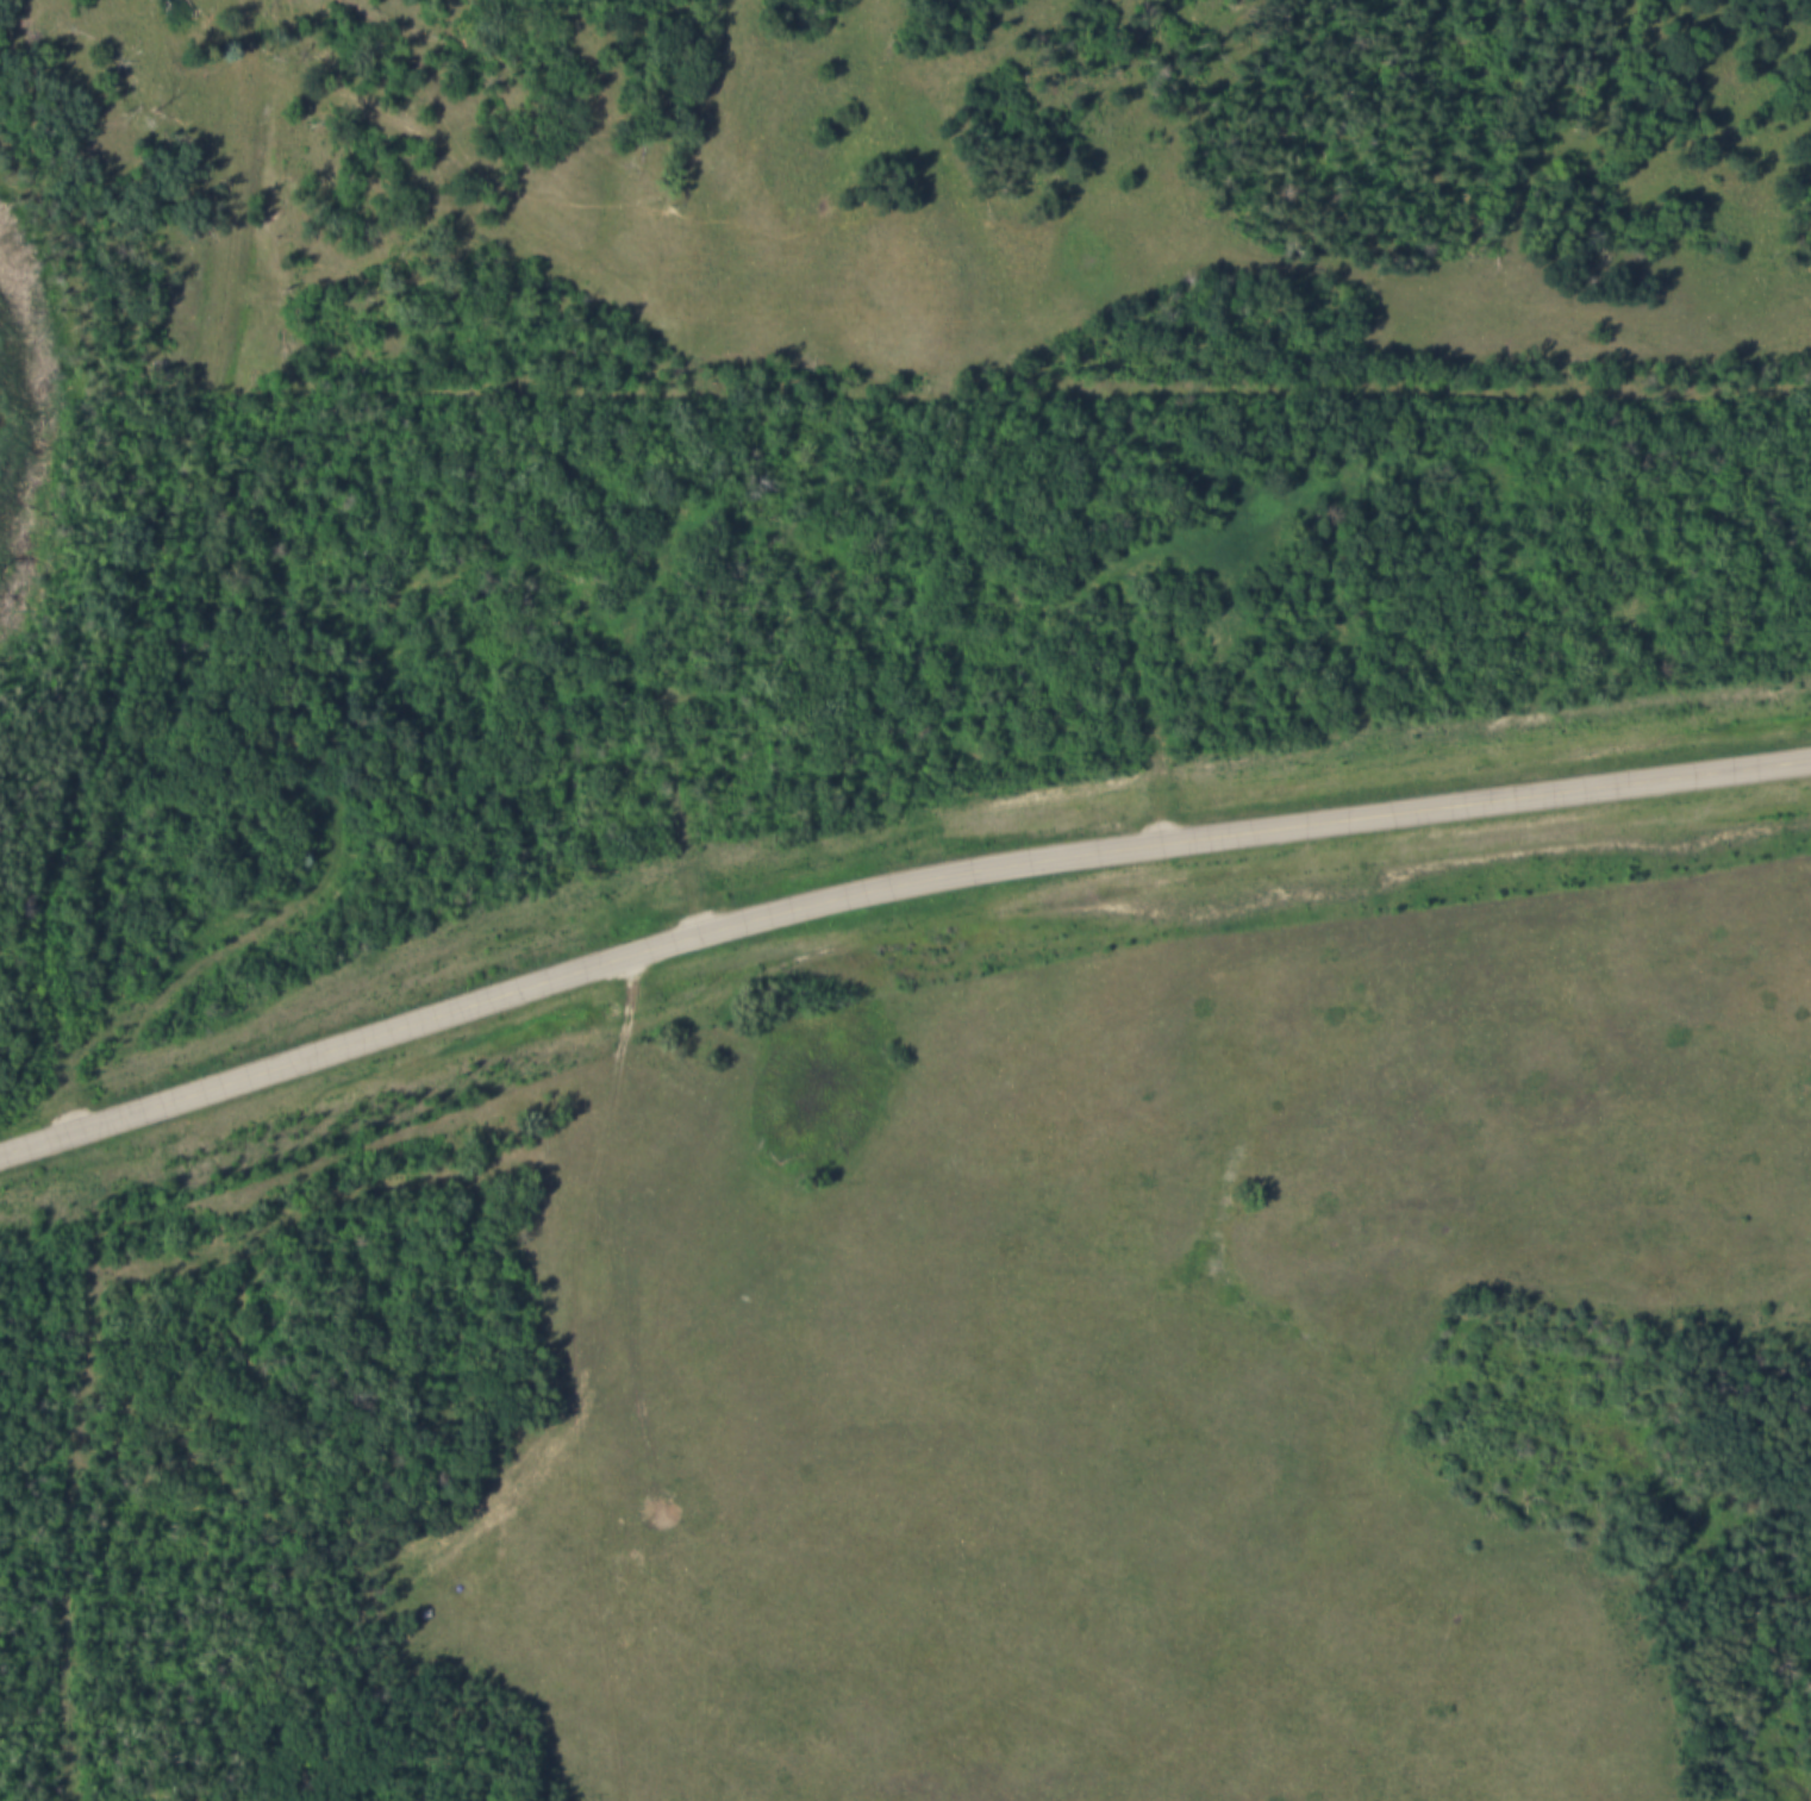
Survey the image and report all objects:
road: (171, 577)
road: (889, 888)

